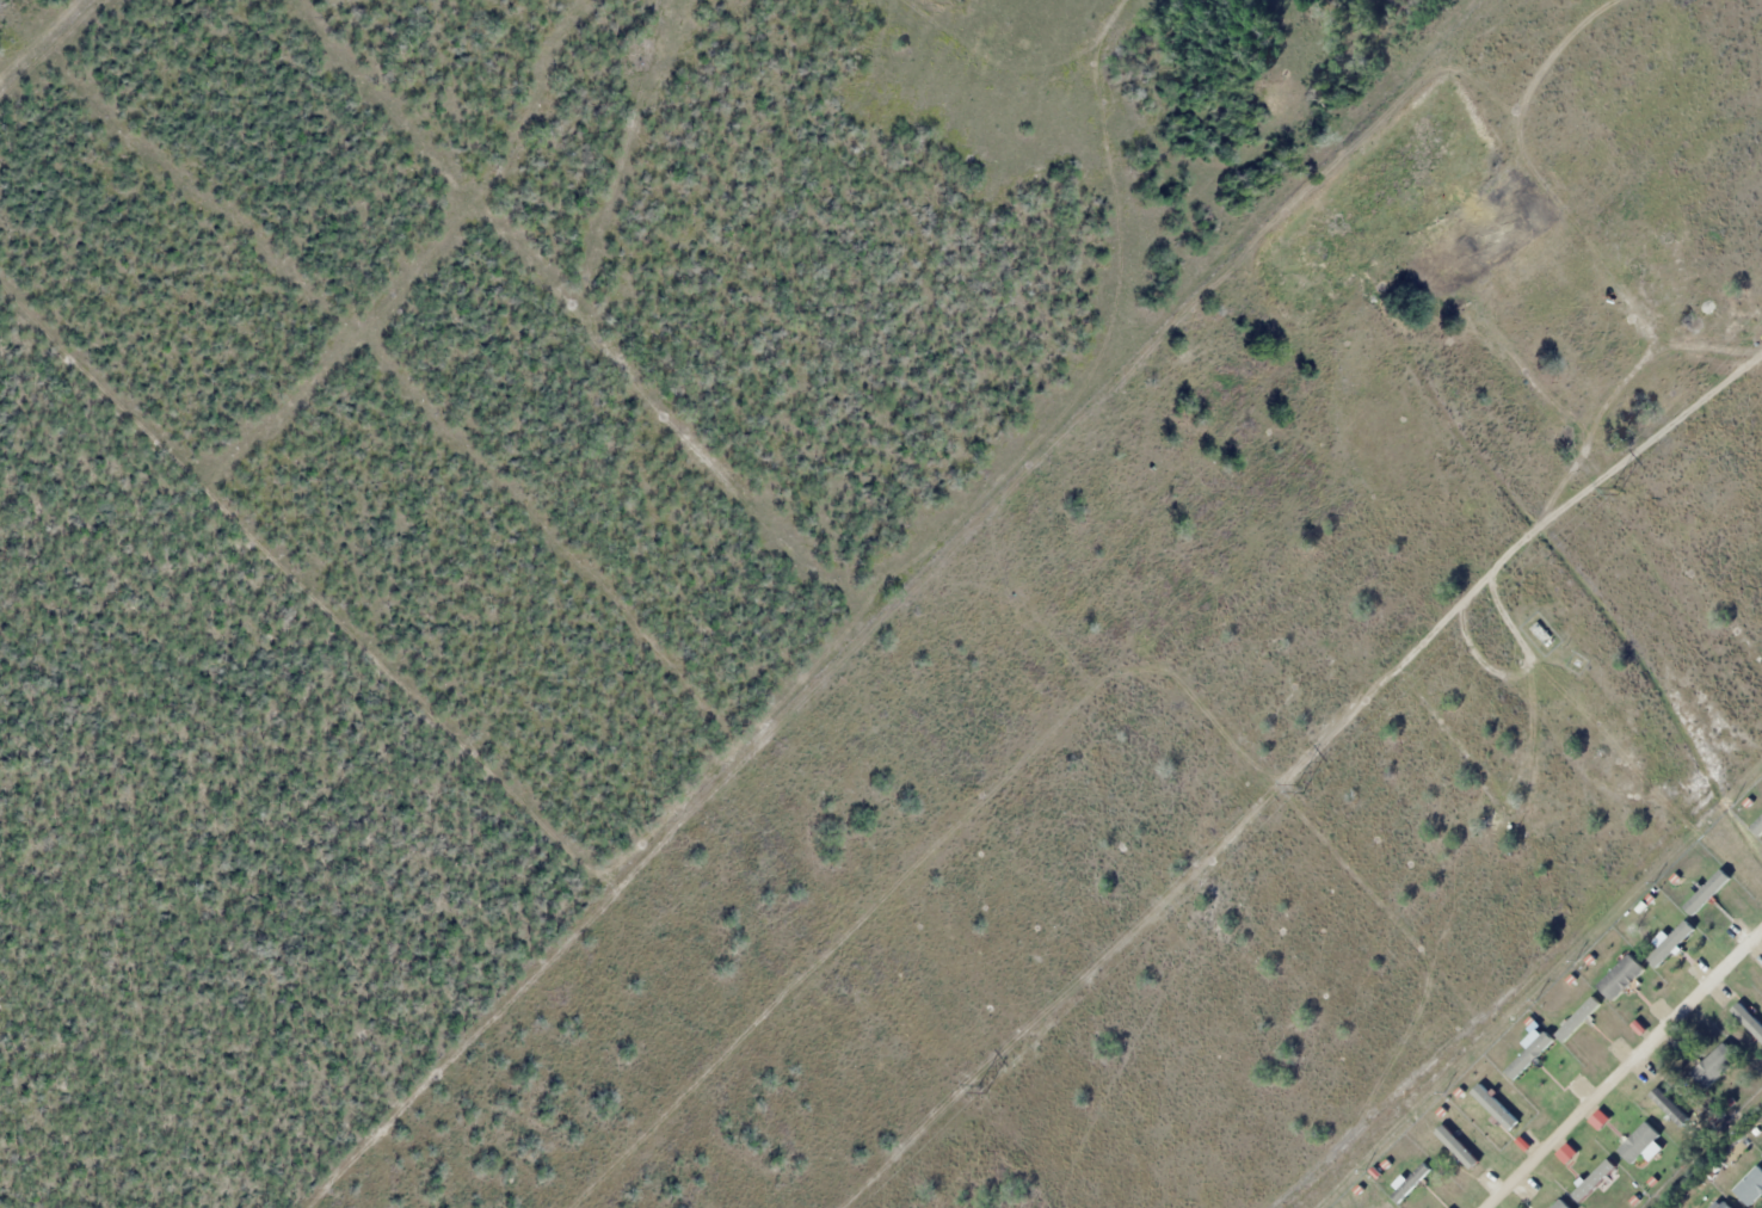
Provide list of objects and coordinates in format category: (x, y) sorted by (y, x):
power tower: (1614, 492)
power tower: (1299, 789)
power tower: (981, 1089)
building: (1751, 1188)
building: (1723, 1204)

